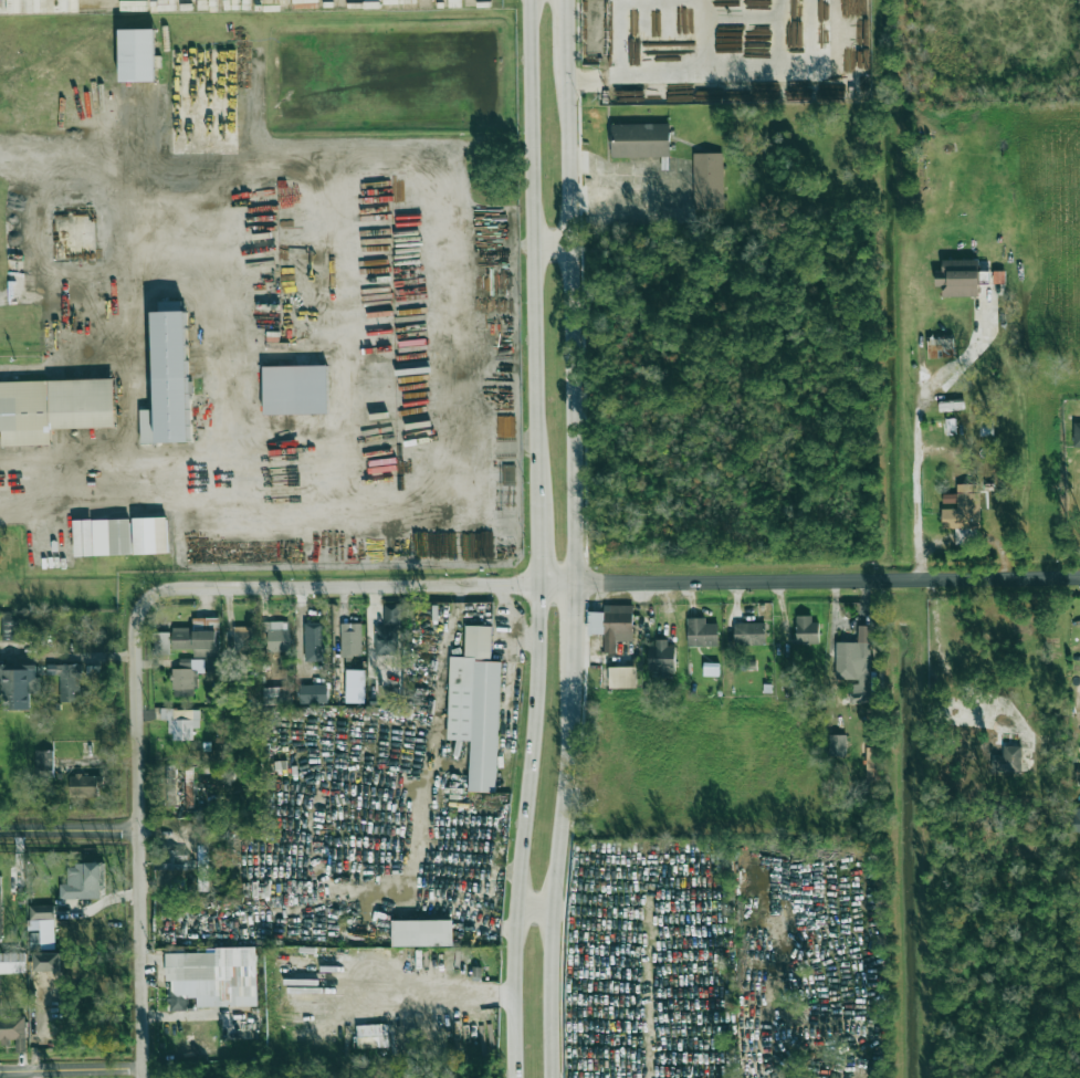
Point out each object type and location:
building: (86, 6)
road: (566, 34)
building: (137, 55)
road: (670, 74)
building: (640, 140)
road: (621, 174)
building: (707, 180)
road: (553, 248)
road: (535, 257)
building: (958, 278)
road: (572, 326)
building: (940, 347)
building: (168, 378)
building: (295, 389)
building: (53, 408)
road: (133, 432)
building: (1077, 435)
road: (916, 437)
road: (216, 438)
road: (248, 479)
building: (961, 510)
road: (371, 521)
building: (150, 535)
building: (962, 535)
building: (102, 537)
road: (538, 550)
road: (610, 584)
road: (572, 616)
building: (611, 625)
building: (806, 630)
building: (388, 631)
building: (701, 632)
building: (748, 634)
building: (276, 635)
building: (242, 638)
building: (350, 639)
road: (445, 639)
building: (196, 640)
building: (314, 641)
building: (160, 643)
building: (661, 656)
road: (71, 657)
building: (856, 664)
building: (711, 670)
building: (191, 671)
building: (622, 677)
building: (66, 679)
building: (18, 685)
building: (313, 693)
building: (276, 695)
building: (475, 707)
building: (181, 722)
building: (837, 745)
building: (1007, 760)
building: (43, 764)
building: (872, 764)
building: (1078, 774)
building: (85, 785)
building: (1074, 819)
road: (522, 830)
road: (70, 831)
road: (139, 839)
building: (174, 860)
road: (556, 862)
building: (83, 881)
building: (0, 909)
road: (534, 909)
building: (42, 923)
building: (422, 933)
building: (34, 941)
building: (46, 962)
building: (12, 963)
building: (213, 977)
road: (647, 1026)
building: (13, 1032)
building: (371, 1036)
road: (72, 1069)

